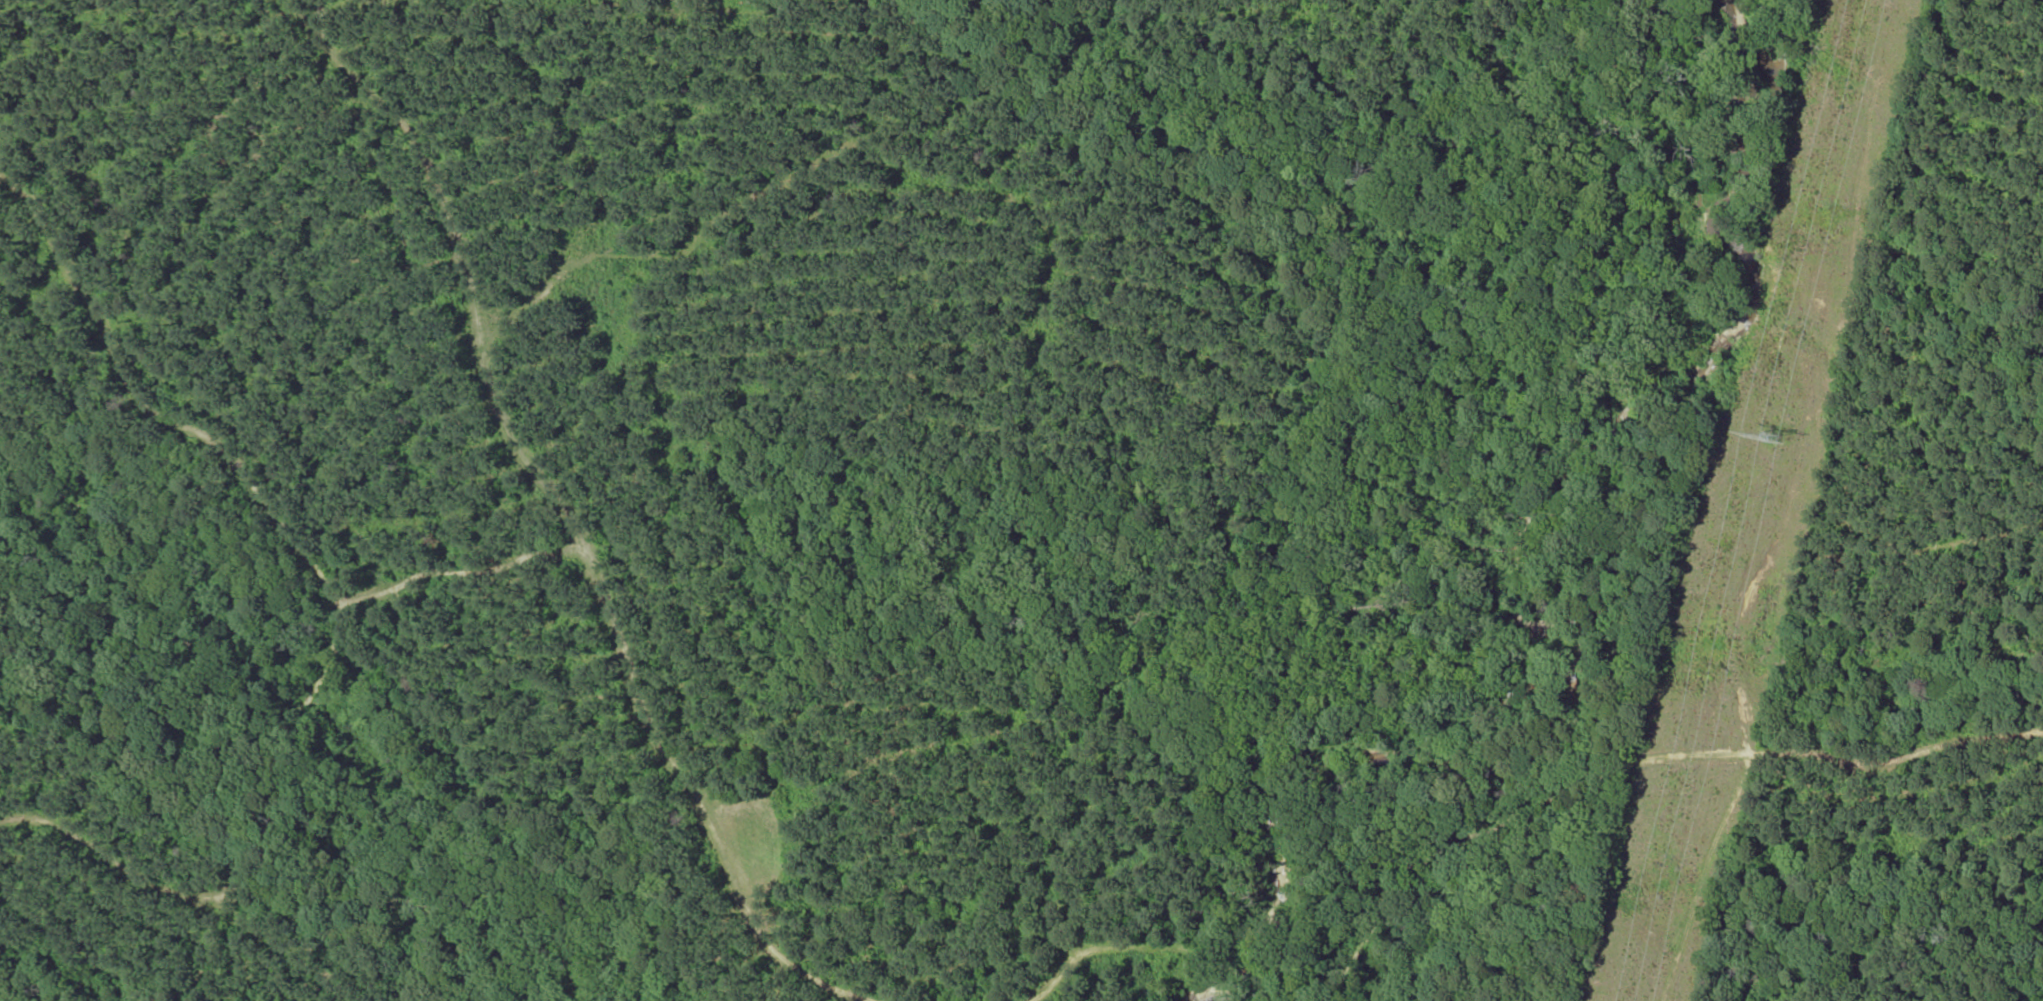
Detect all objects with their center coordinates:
power tower: (1797, 446)

